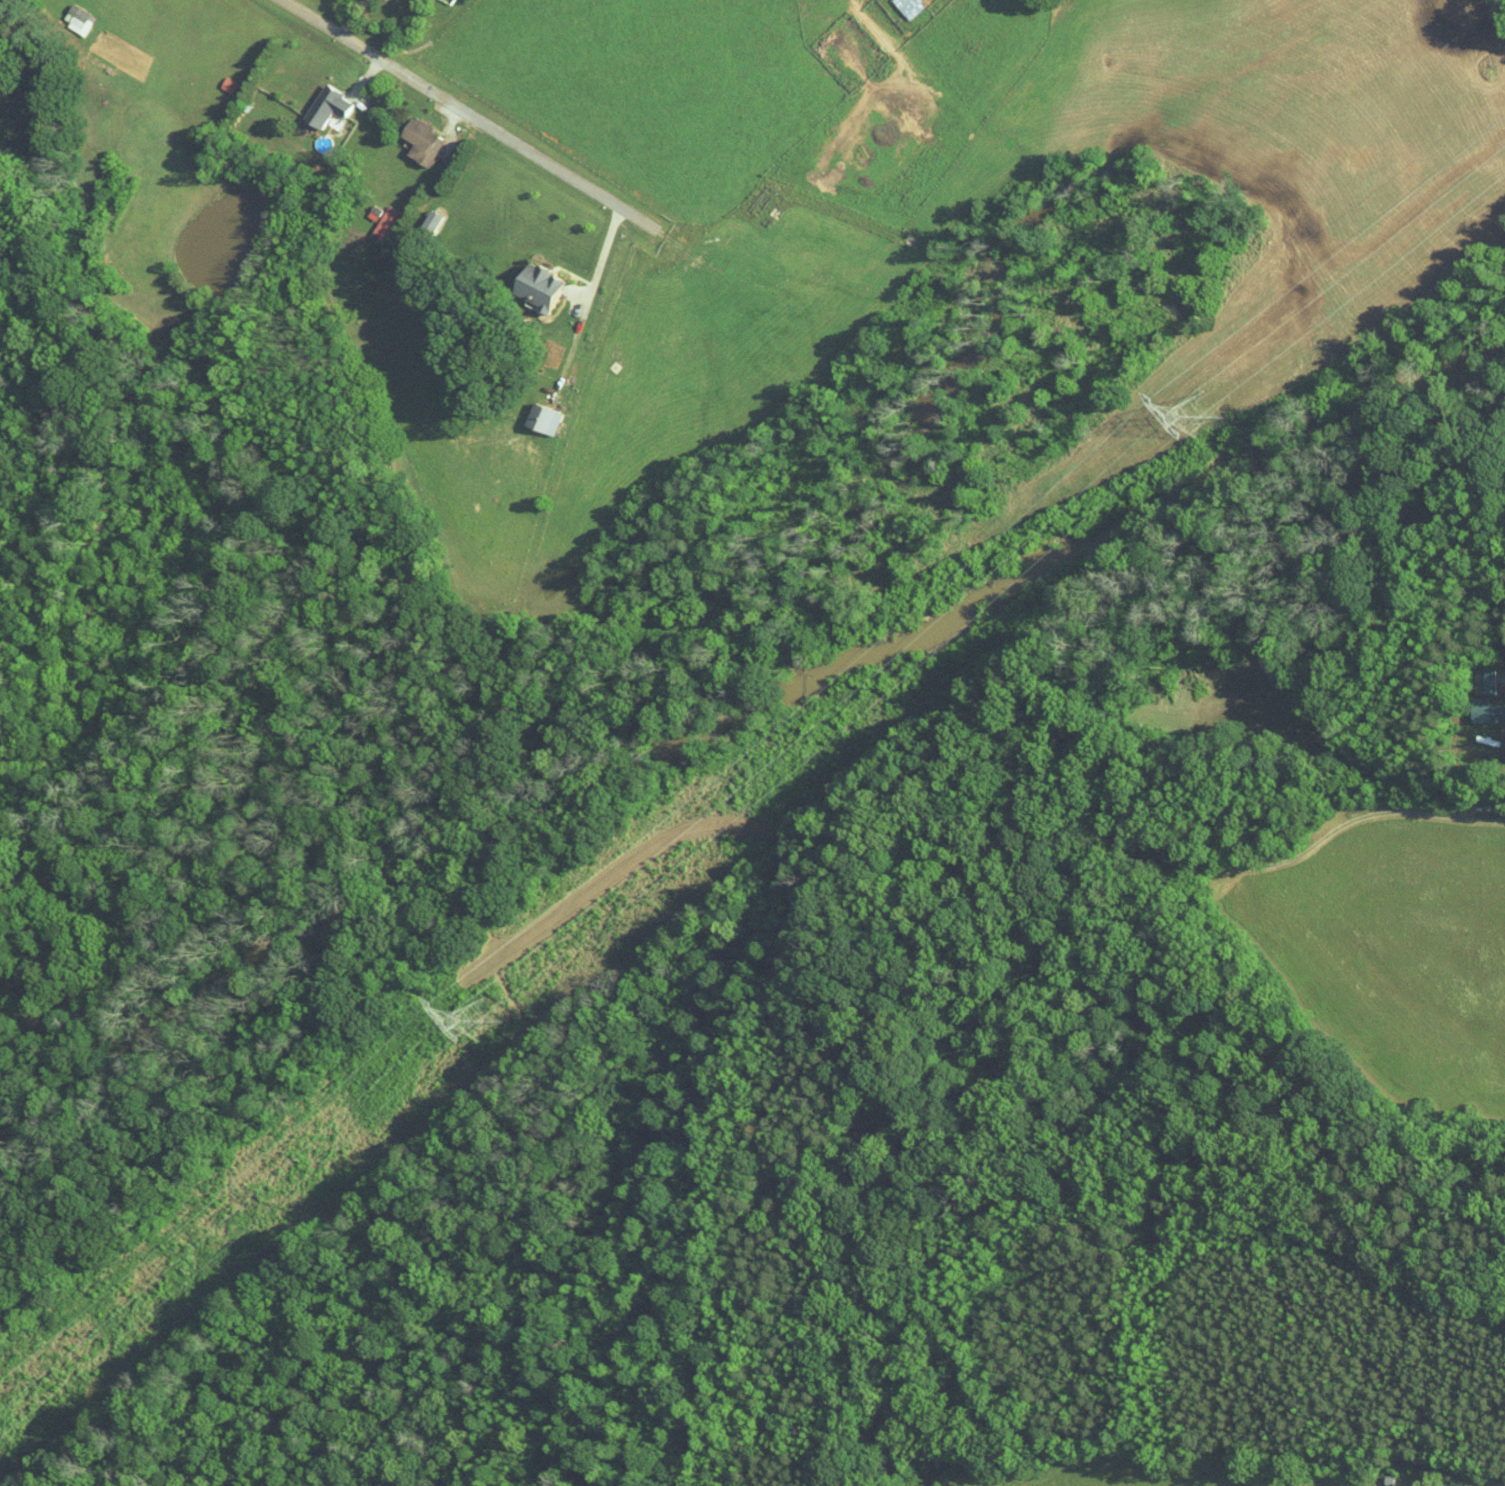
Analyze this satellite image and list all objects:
building: (907, 7)
building: (79, 22)
building: (227, 85)
building: (326, 107)
road: (467, 111)
building: (420, 141)
building: (384, 223)
road: (604, 253)
building: (536, 288)
power tower: (1204, 412)
building: (541, 420)
building: (1486, 697)
power tower: (486, 1020)

